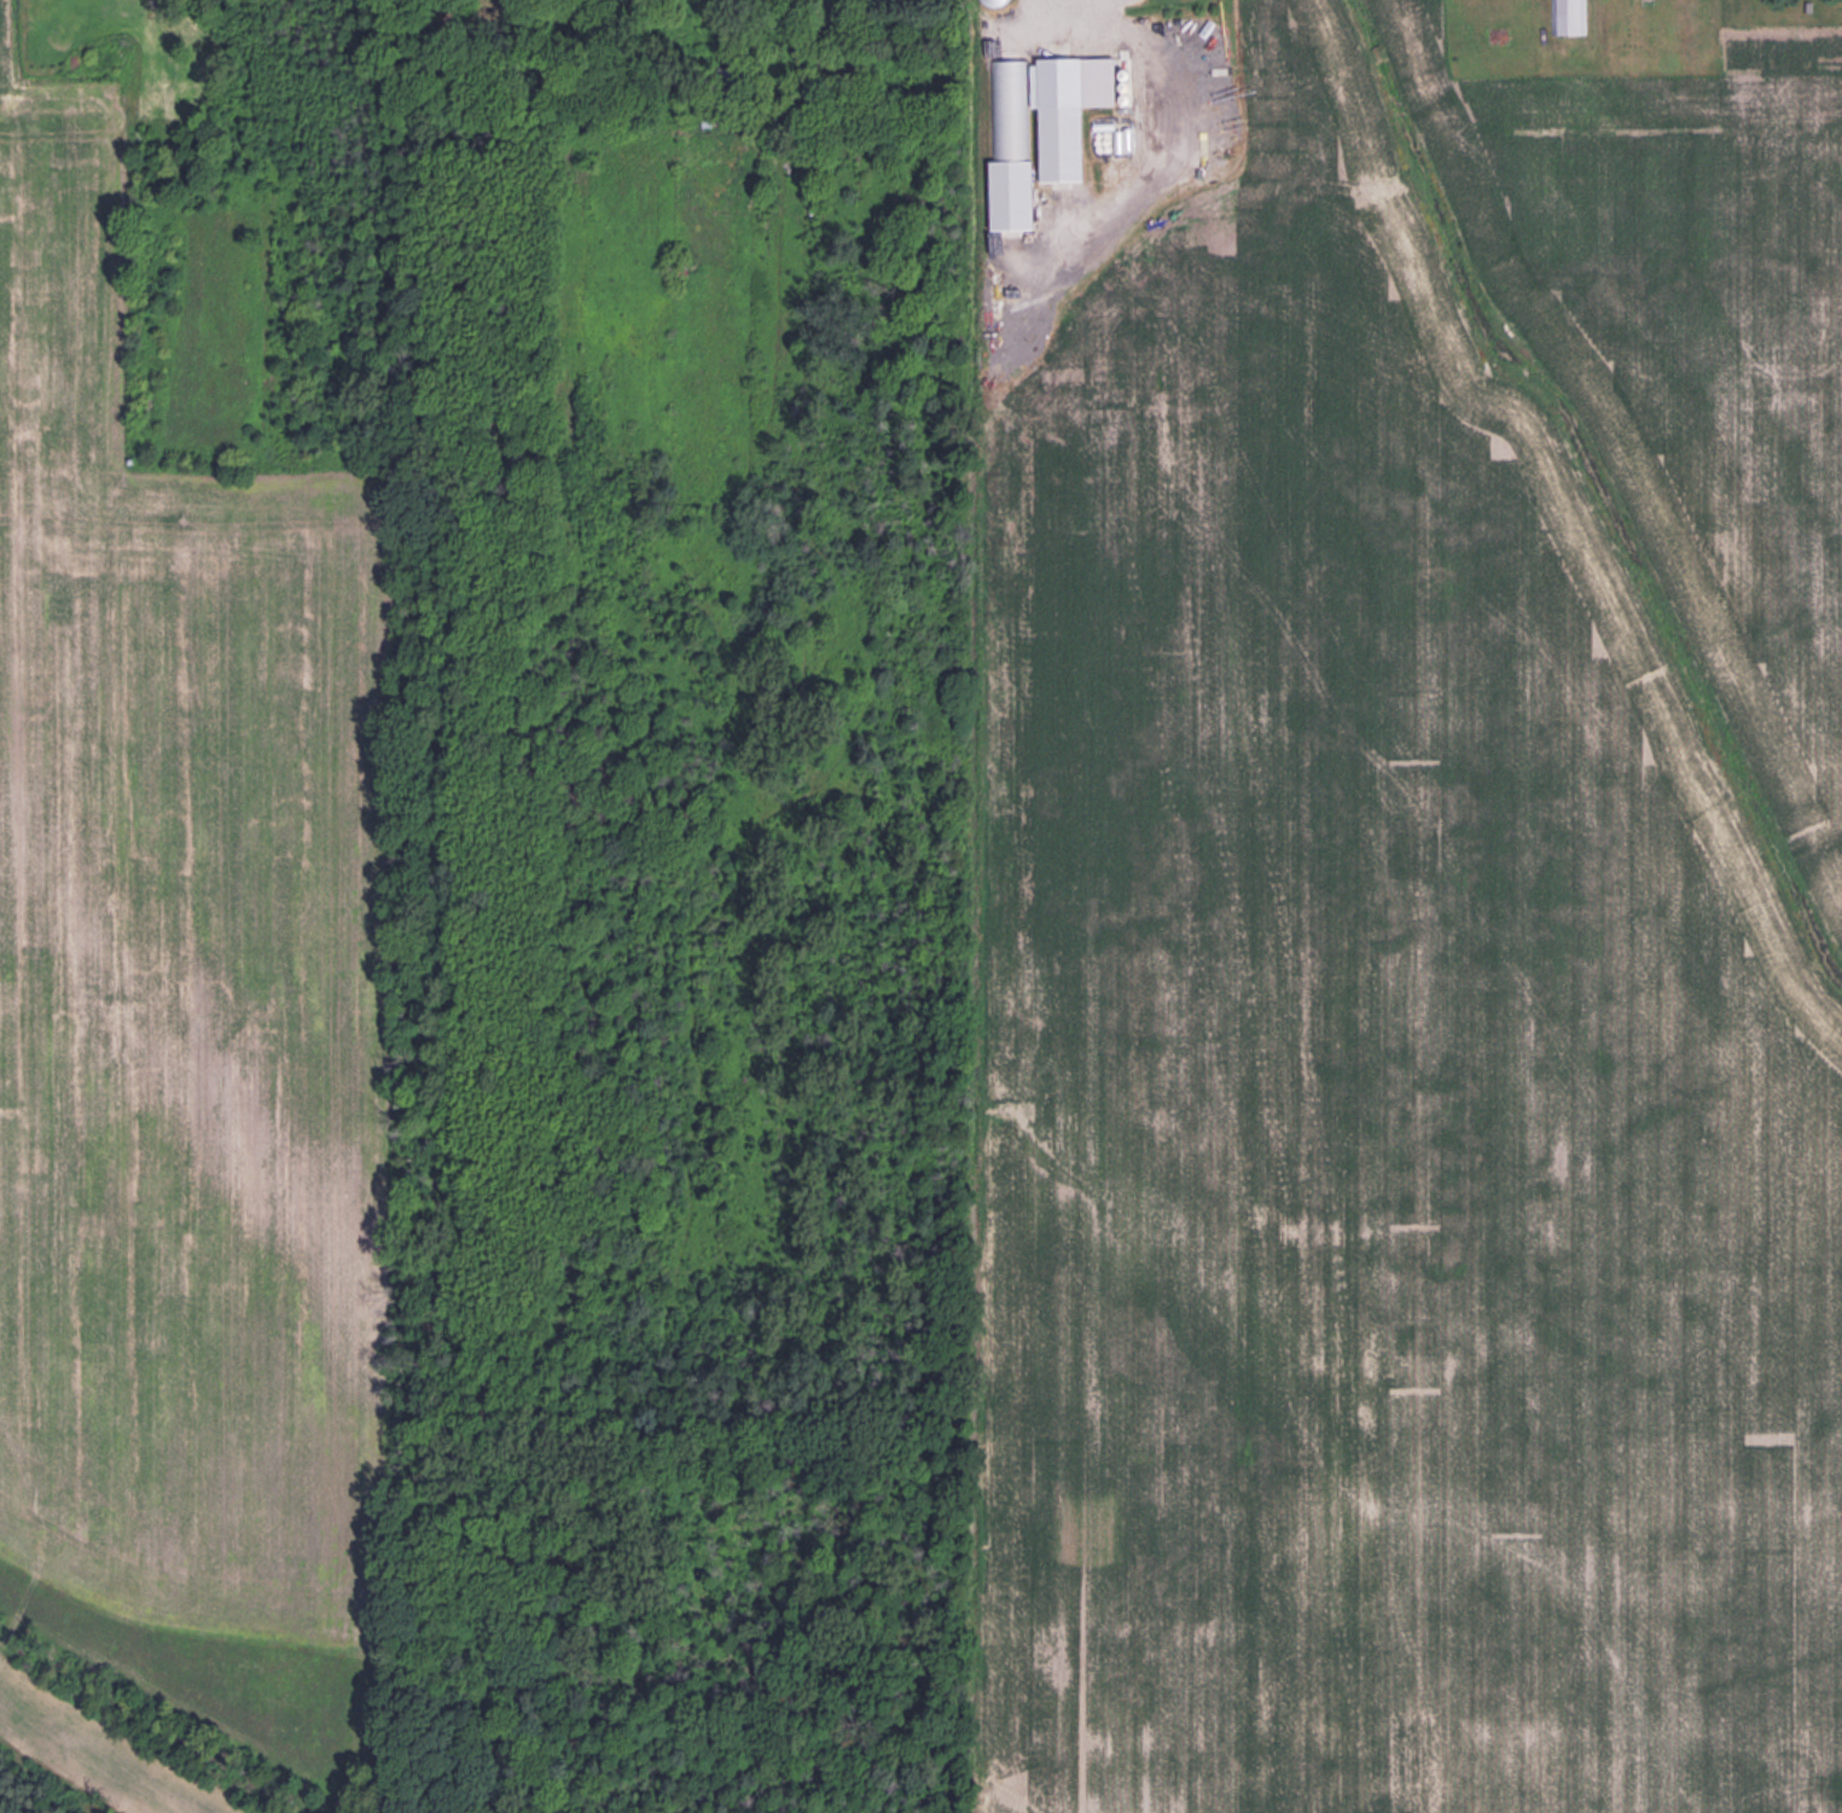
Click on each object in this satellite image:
building: (994, 2)
building: (1569, 17)
building: (727, 89)
building: (1009, 112)
building: (1069, 112)
road: (1183, 151)

